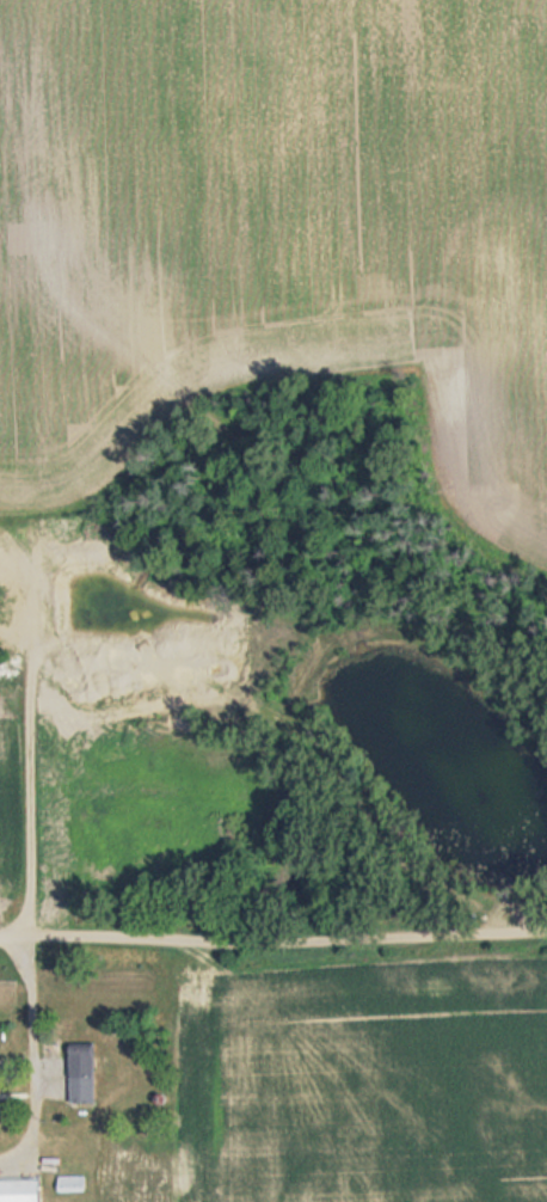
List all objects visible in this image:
road: (272, 945)
building: (80, 1075)
building: (135, 1151)
building: (18, 1189)

